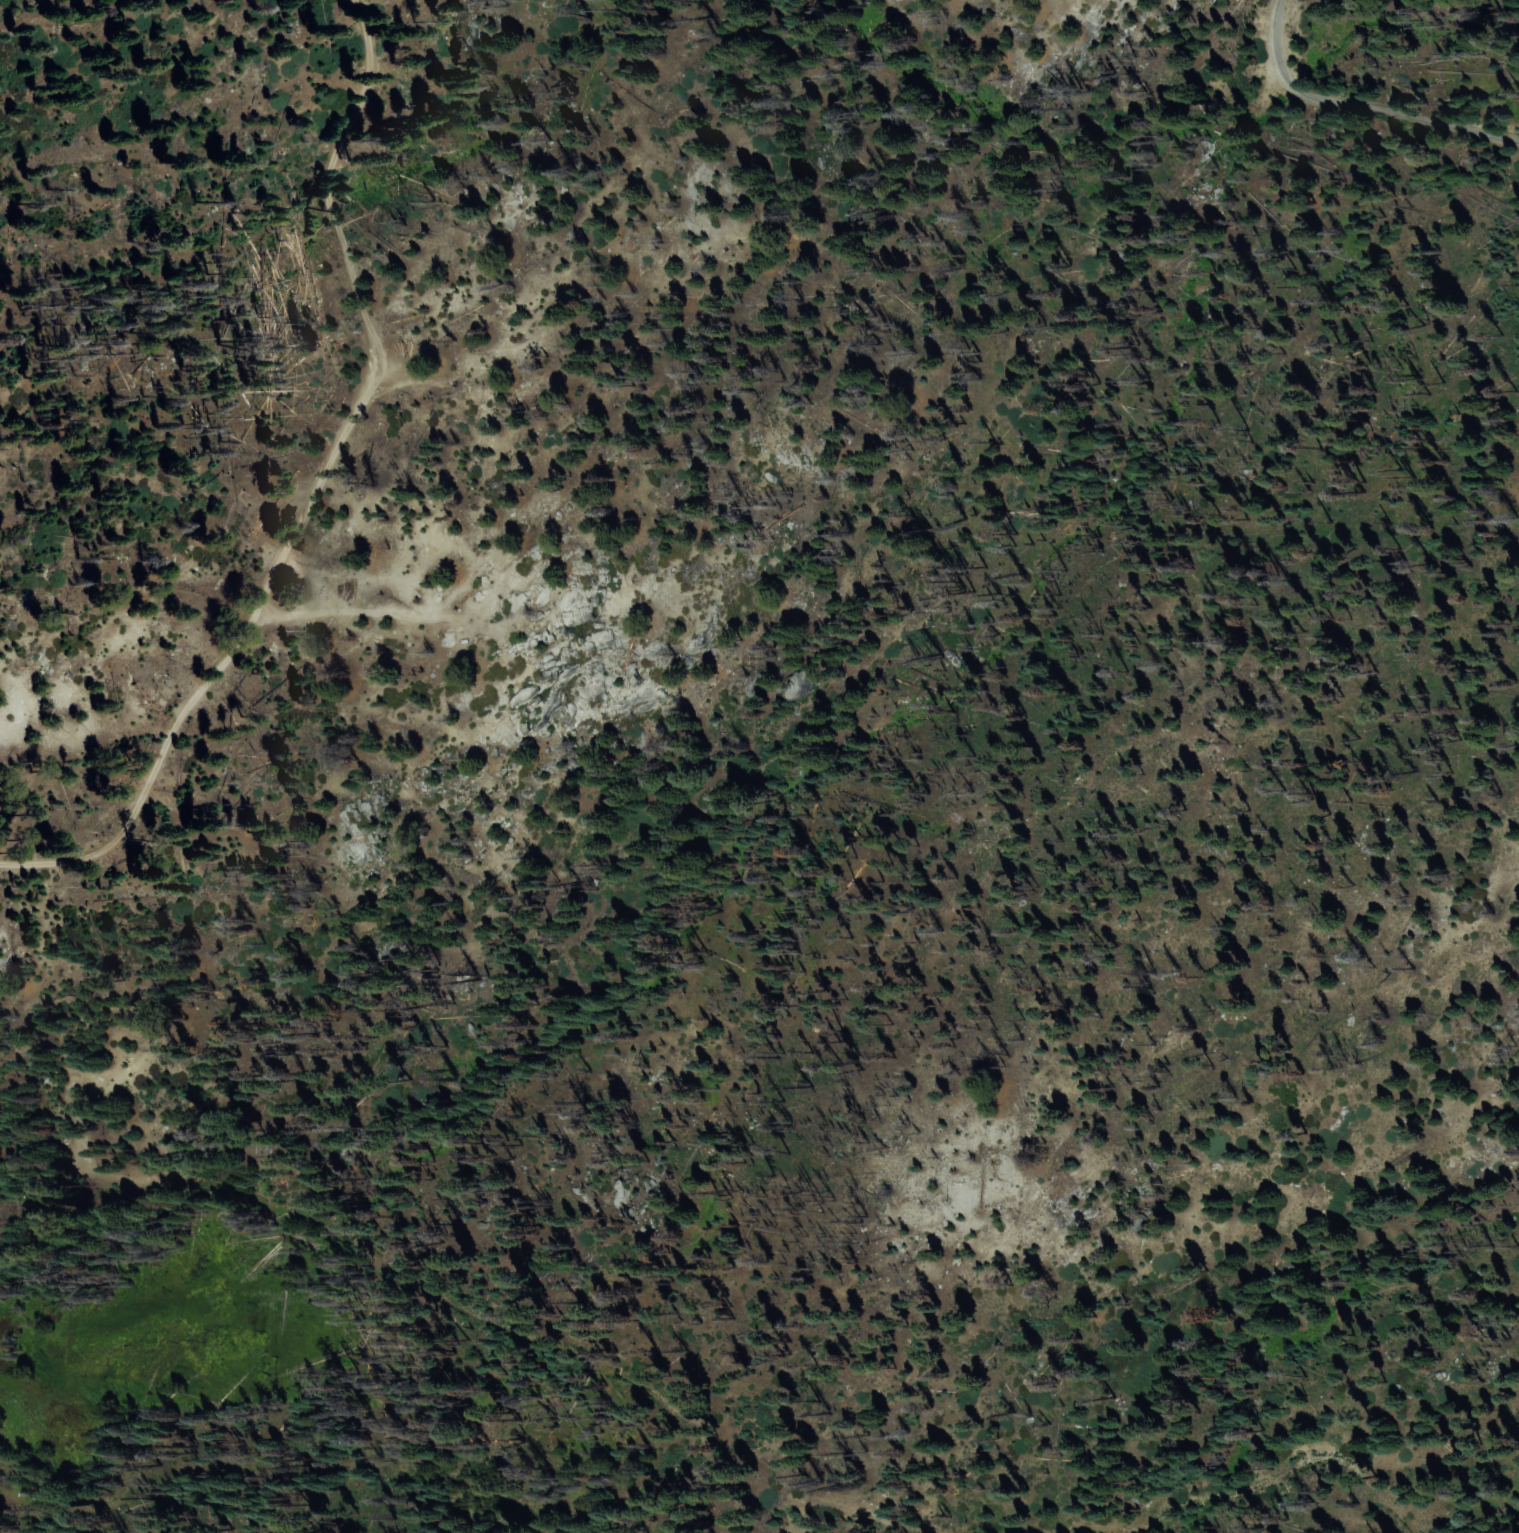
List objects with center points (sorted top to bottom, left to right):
road: (1359, 112)
building: (789, 461)
road: (315, 492)
road: (363, 1261)
road: (1296, 1487)

